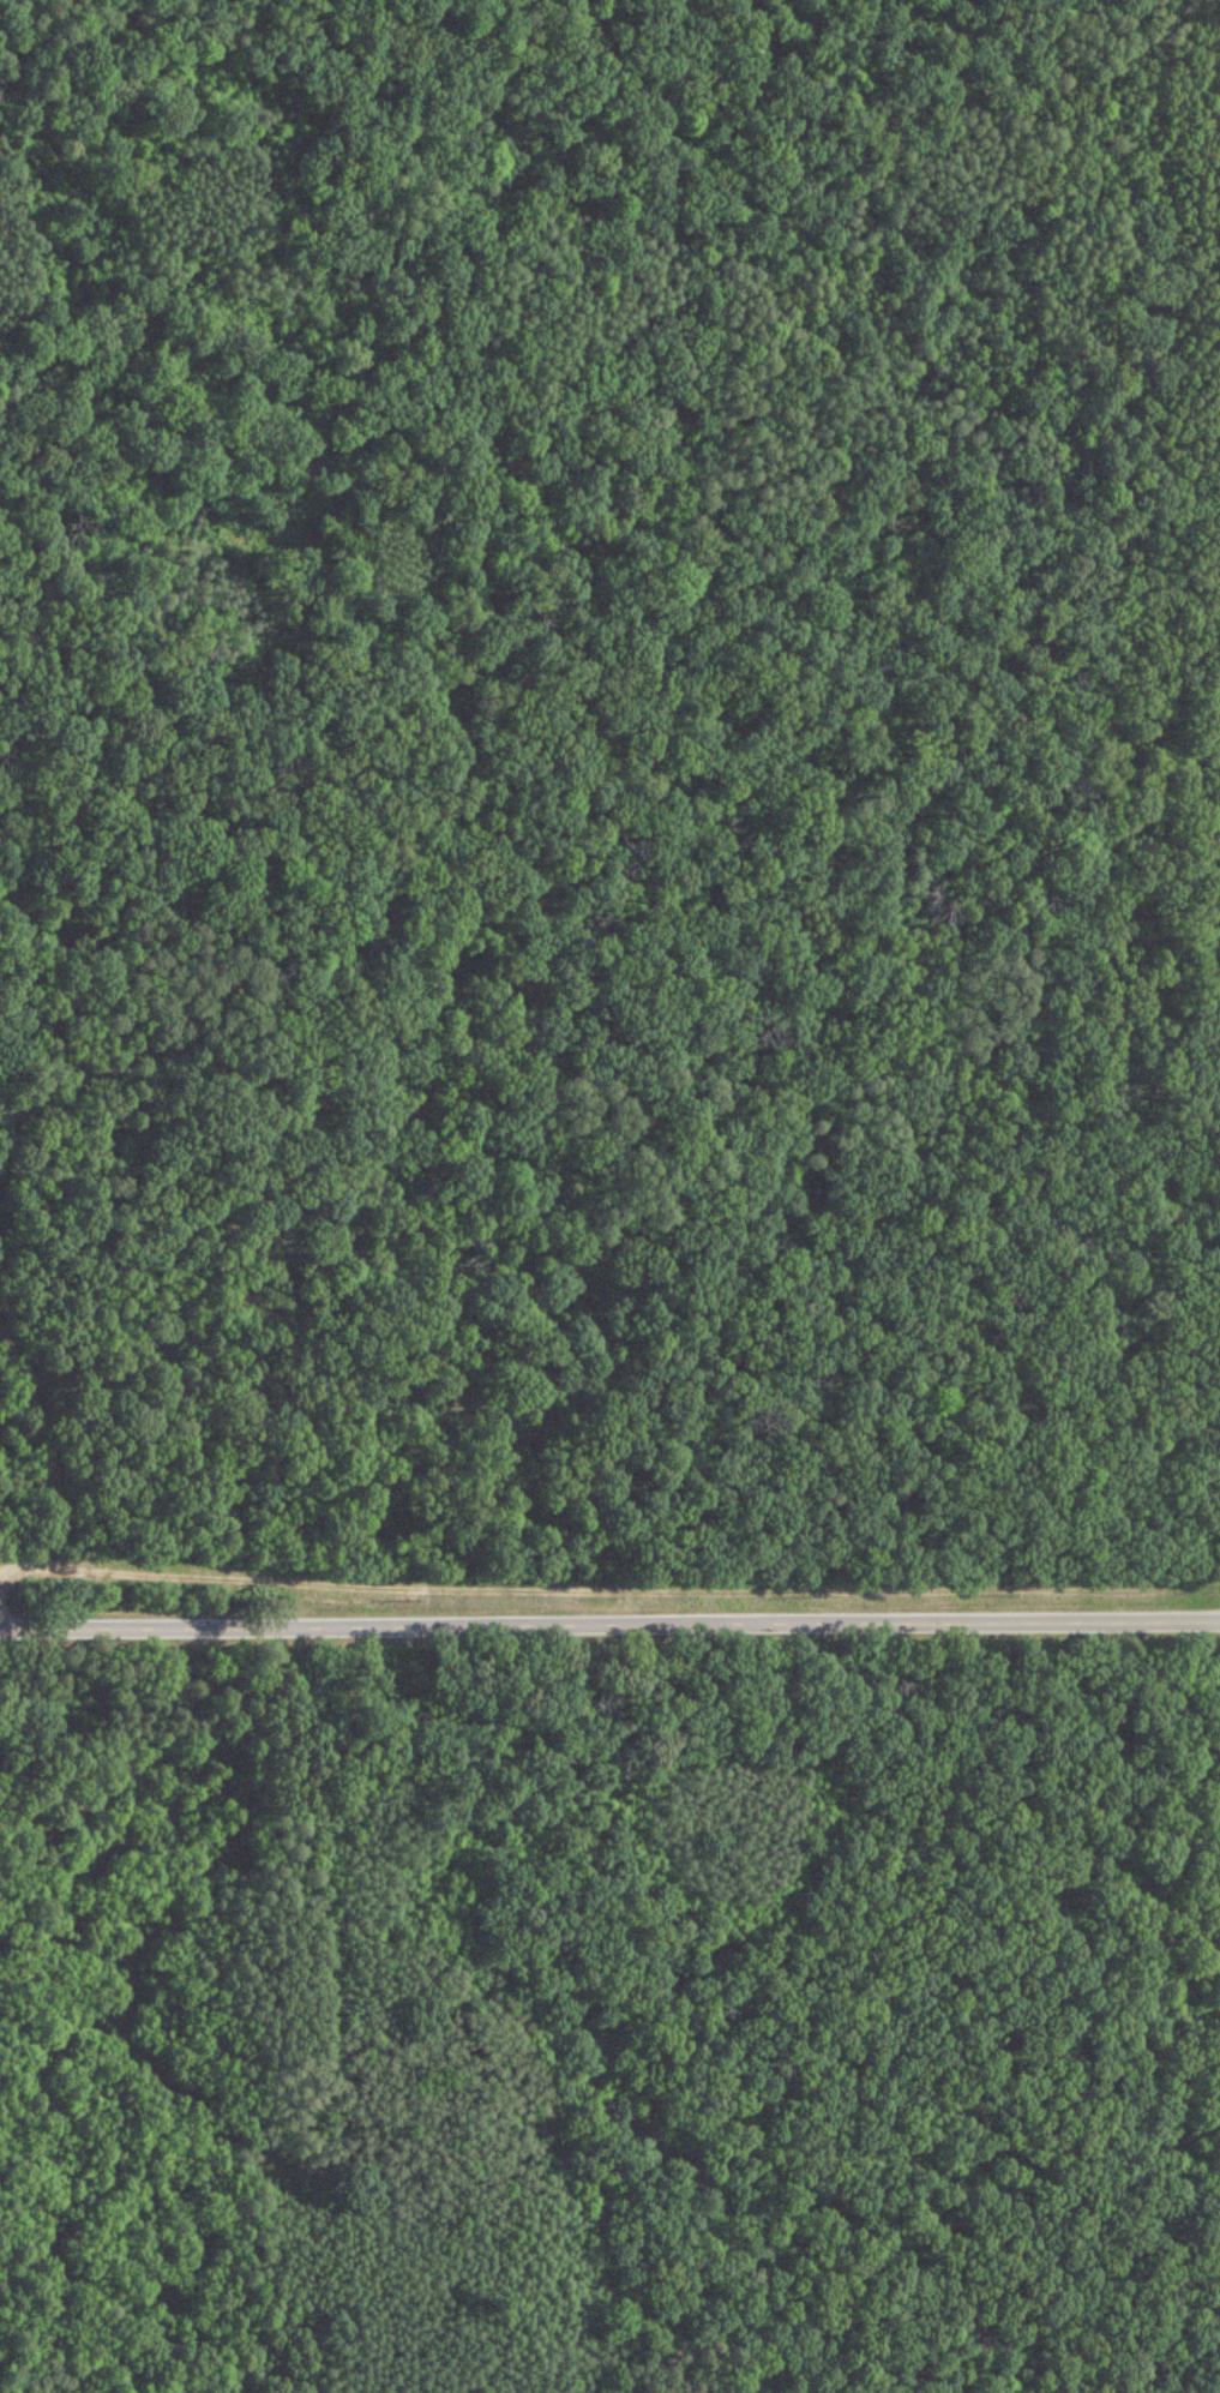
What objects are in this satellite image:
road: (620, 949)
road: (1, 1123)
road: (44, 1462)
road: (609, 1620)

